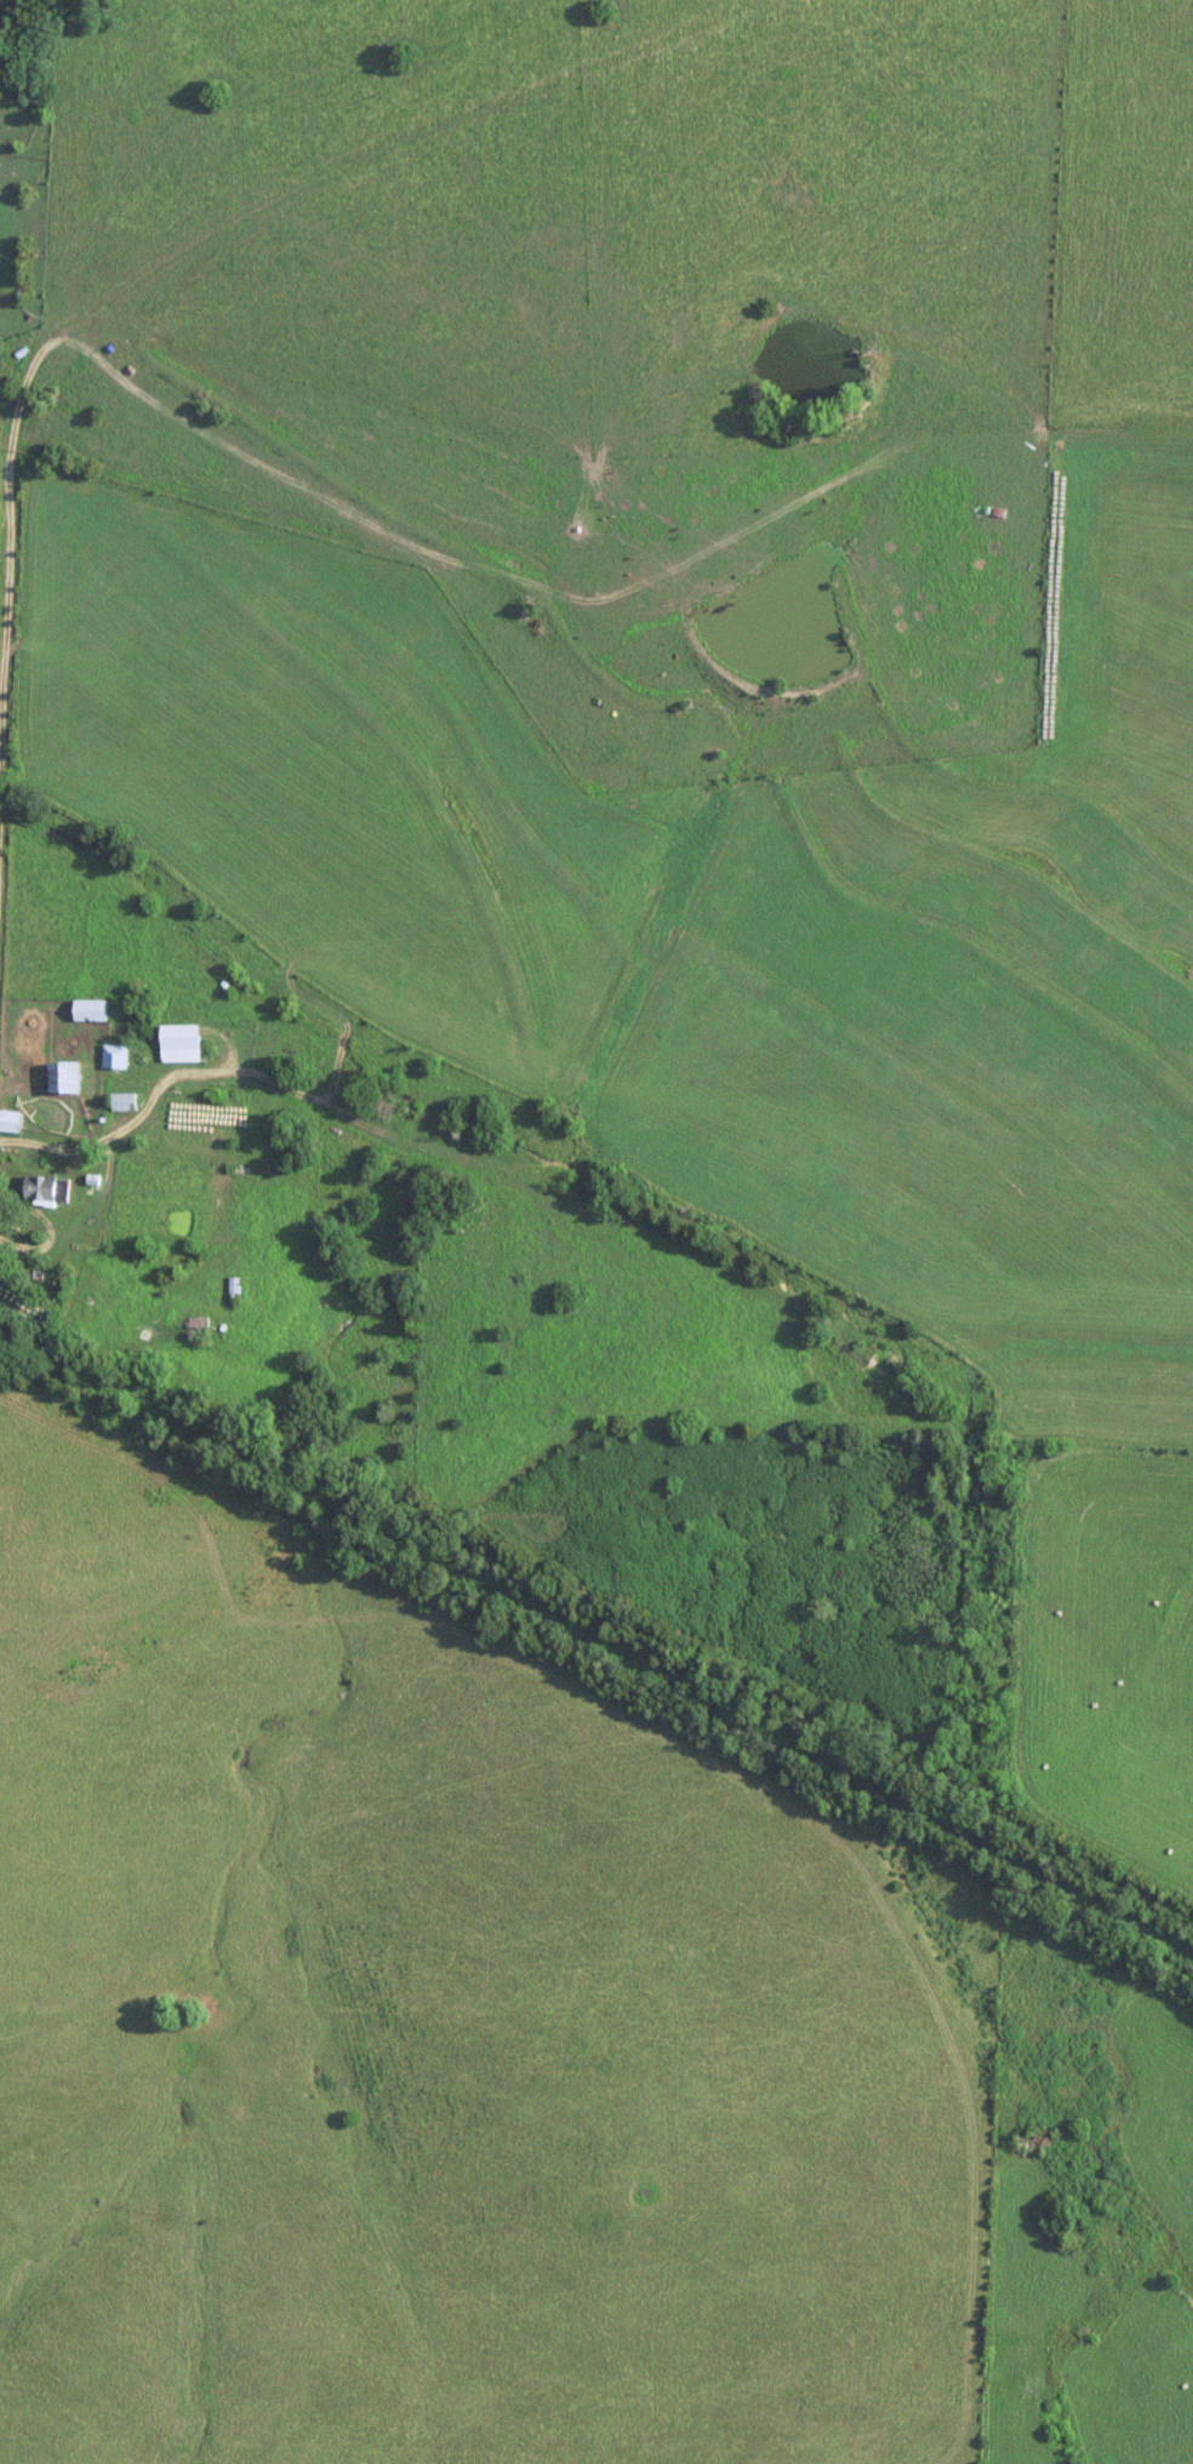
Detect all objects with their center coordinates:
road: (10, 511)
building: (87, 1010)
building: (178, 1043)
building: (113, 1056)
building: (61, 1077)
building: (122, 1101)
building: (10, 1120)
road: (113, 1125)
building: (44, 1187)
building: (234, 1284)
building: (198, 1329)

